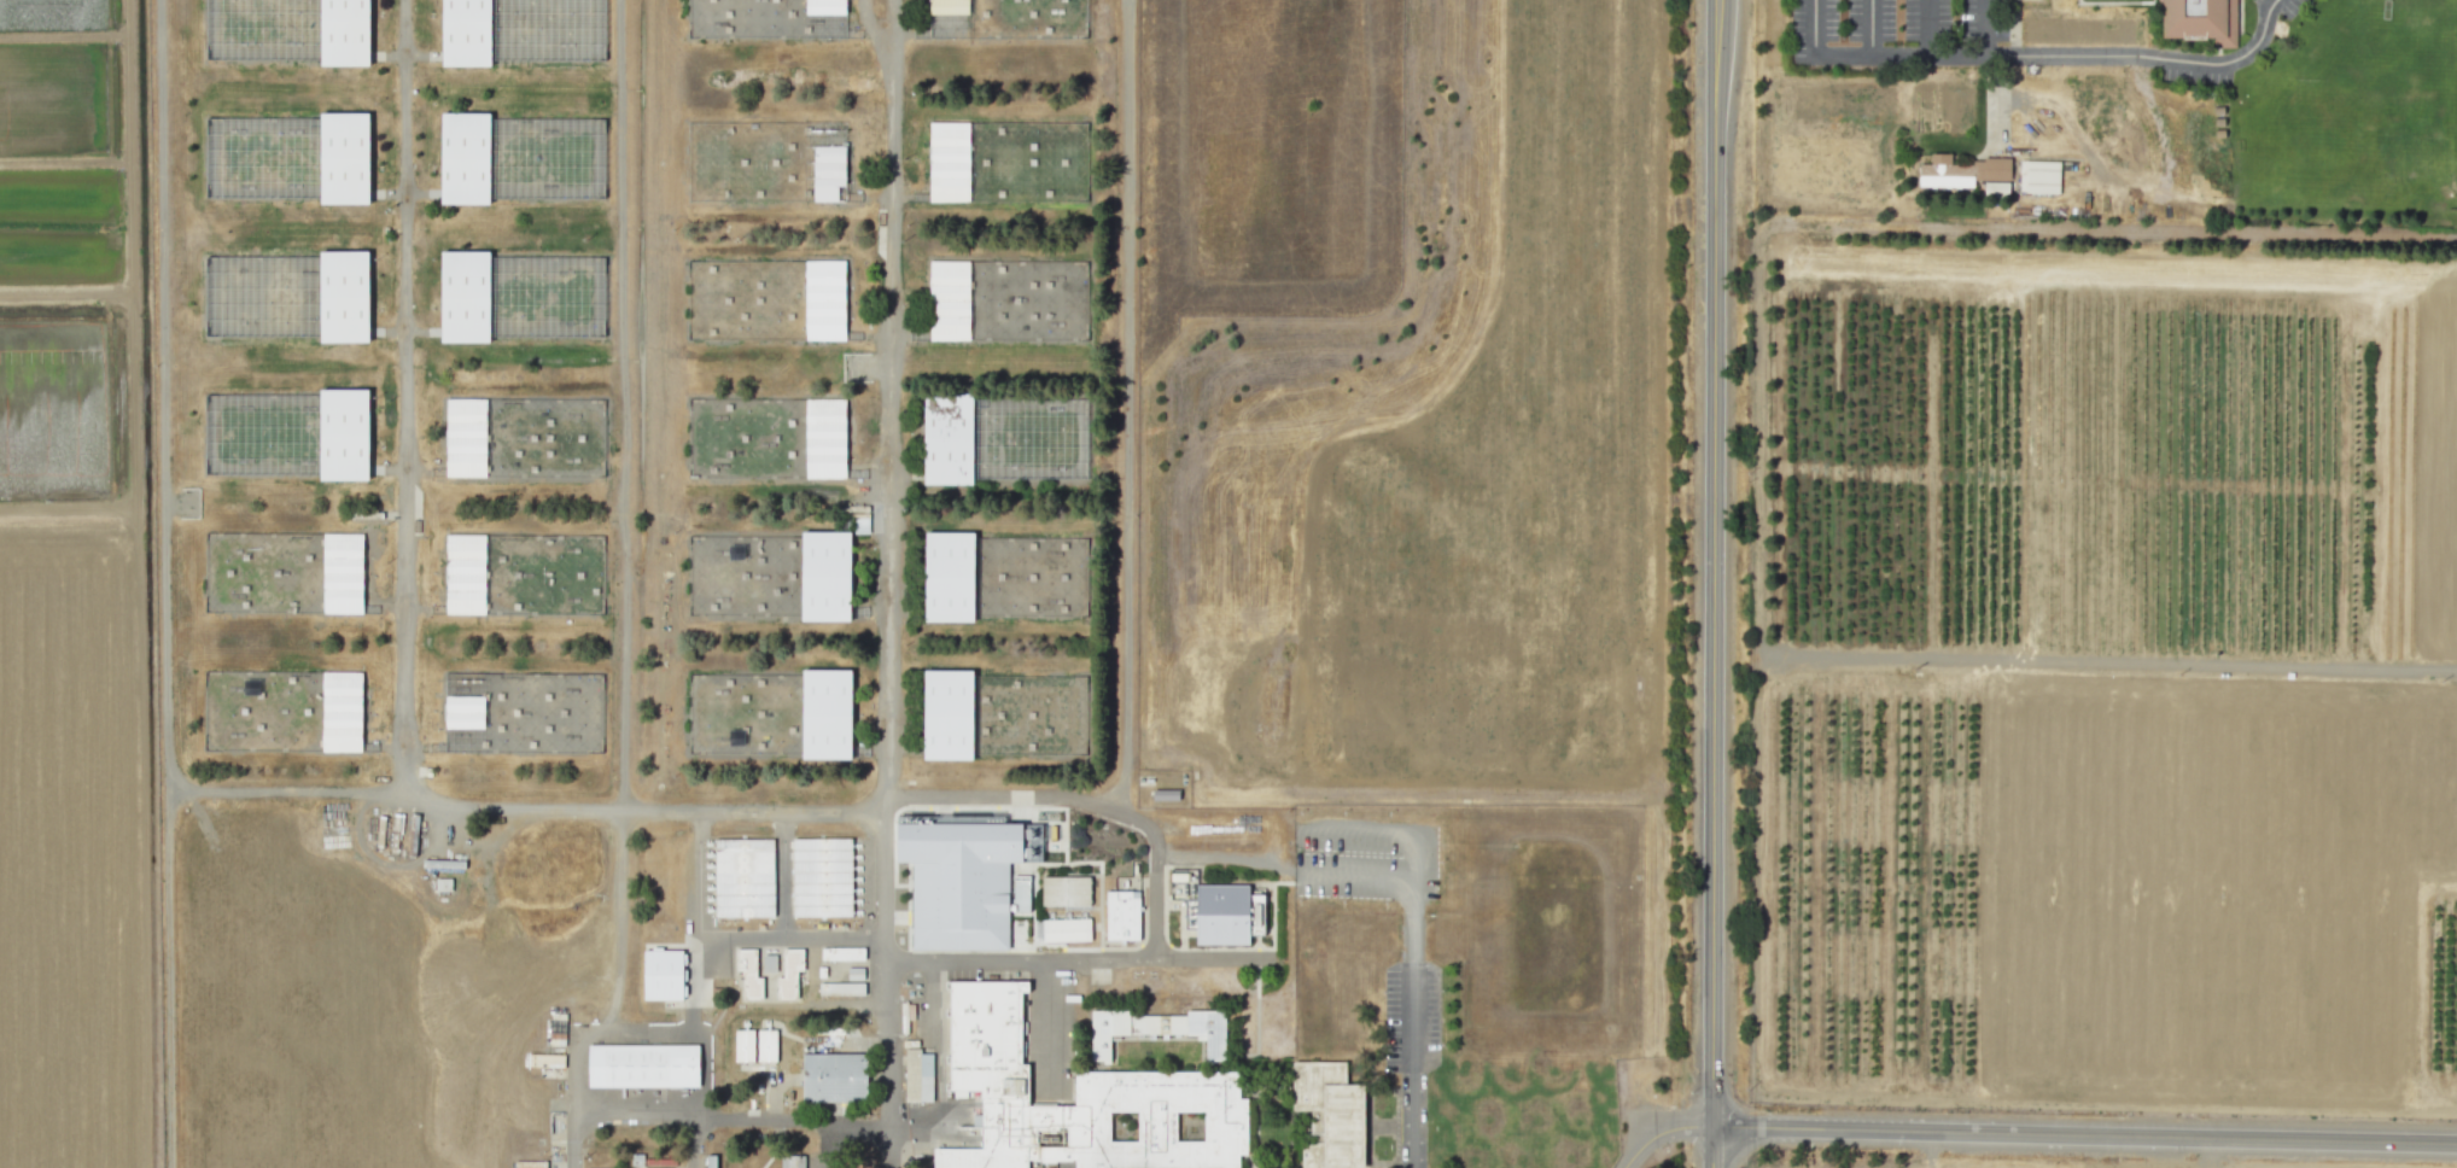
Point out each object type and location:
building: (824, 18)
building: (947, 18)
road: (1927, 18)
building: (2200, 19)
road: (1814, 22)
road: (1873, 22)
road: (2015, 22)
parking lot: (1884, 30)
building: (344, 31)
building: (466, 33)
road: (2125, 54)
road: (1995, 98)
park: (2351, 116)
building: (344, 157)
building: (463, 158)
building: (949, 160)
building: (1021, 160)
building: (828, 162)
building: (1962, 170)
building: (2038, 176)
building: (343, 296)
building: (463, 296)
building: (949, 299)
road: (887, 398)
road: (625, 404)
road: (1127, 405)
building: (343, 434)
building: (465, 437)
building: (824, 438)
building: (946, 438)
building: (1021, 442)
road: (1712, 562)
building: (342, 573)
building: (465, 573)
building: (824, 576)
building: (947, 576)
road: (164, 584)
road: (403, 632)
road: (2112, 664)
building: (342, 711)
building: (463, 712)
building: (825, 713)
building: (946, 714)
road: (286, 789)
building: (1165, 794)
road: (1084, 800)
road: (1378, 831)
parking lot: (1364, 859)
road: (787, 872)
road: (1356, 876)
building: (748, 877)
building: (825, 877)
building: (959, 880)
building: (442, 884)
building: (1068, 890)
building: (1225, 912)
building: (1125, 916)
road: (620, 918)
building: (1069, 930)
road: (733, 935)
building: (846, 953)
road: (1082, 958)
building: (769, 963)
building: (663, 974)
building: (753, 974)
building: (793, 974)
road: (882, 981)
building: (845, 989)
road: (1413, 1023)
road: (1047, 1024)
building: (1161, 1026)
road: (635, 1028)
building: (1110, 1032)
building: (1212, 1032)
building: (990, 1039)
road: (702, 1046)
parking lot: (1412, 1049)
building: (641, 1068)
building: (839, 1075)
building: (916, 1075)
road: (574, 1097)
road: (731, 1115)
building: (1332, 1115)
building: (1050, 1119)
road: (1656, 1127)
road: (2084, 1133)
road: (825, 1144)
road: (1711, 1147)
building: (984, 1158)
building: (796, 1162)
building: (530, 1163)

